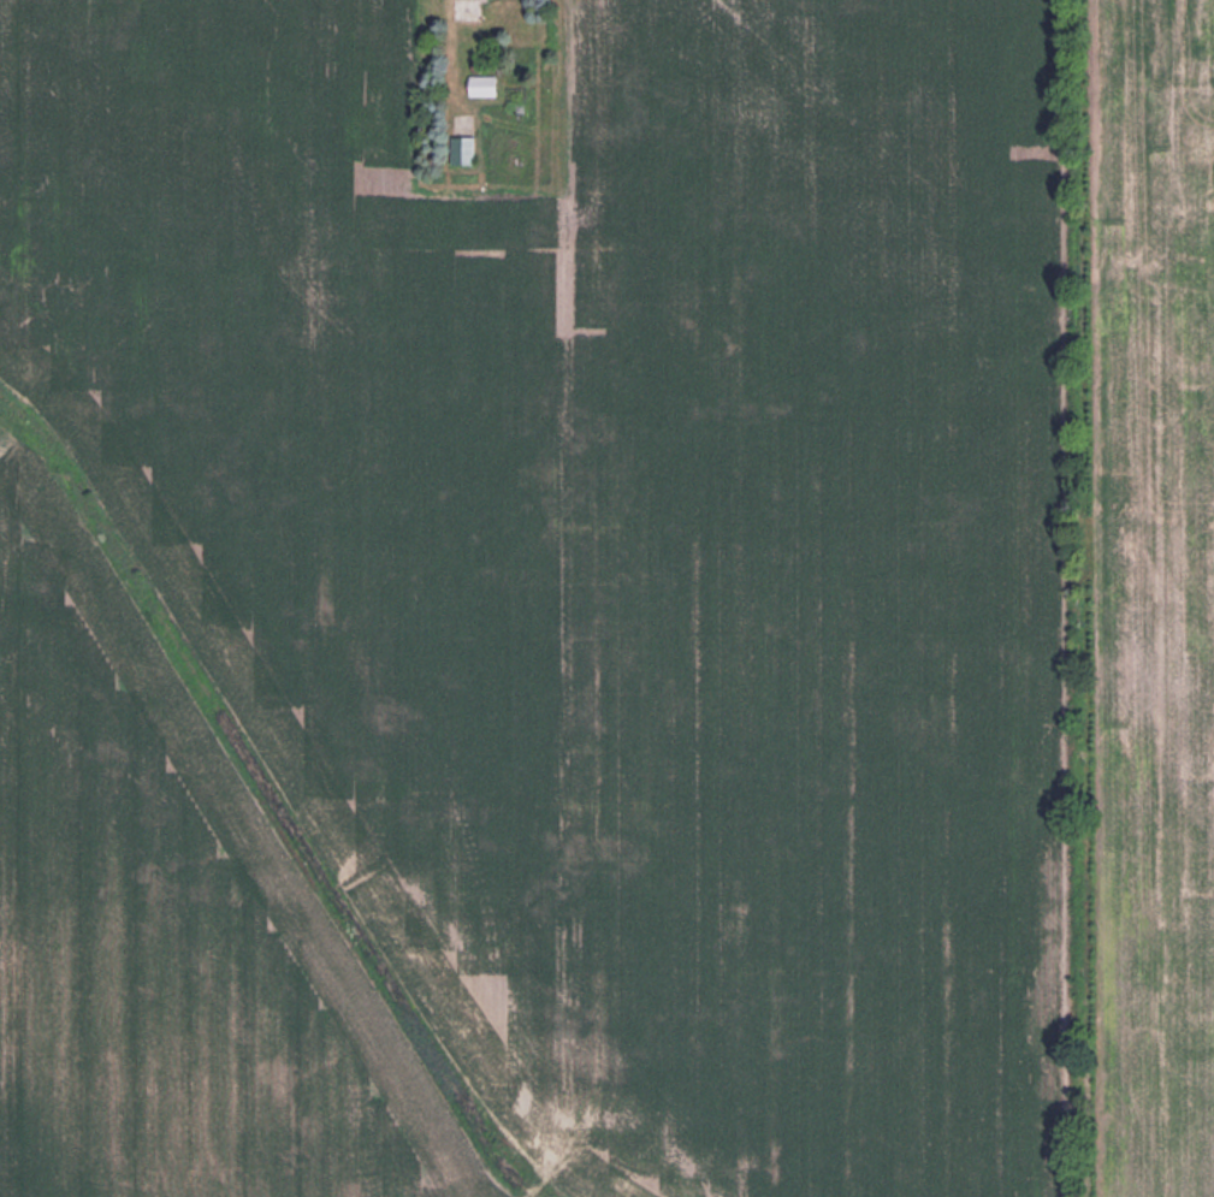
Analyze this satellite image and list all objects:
building: (481, 87)
building: (461, 150)

